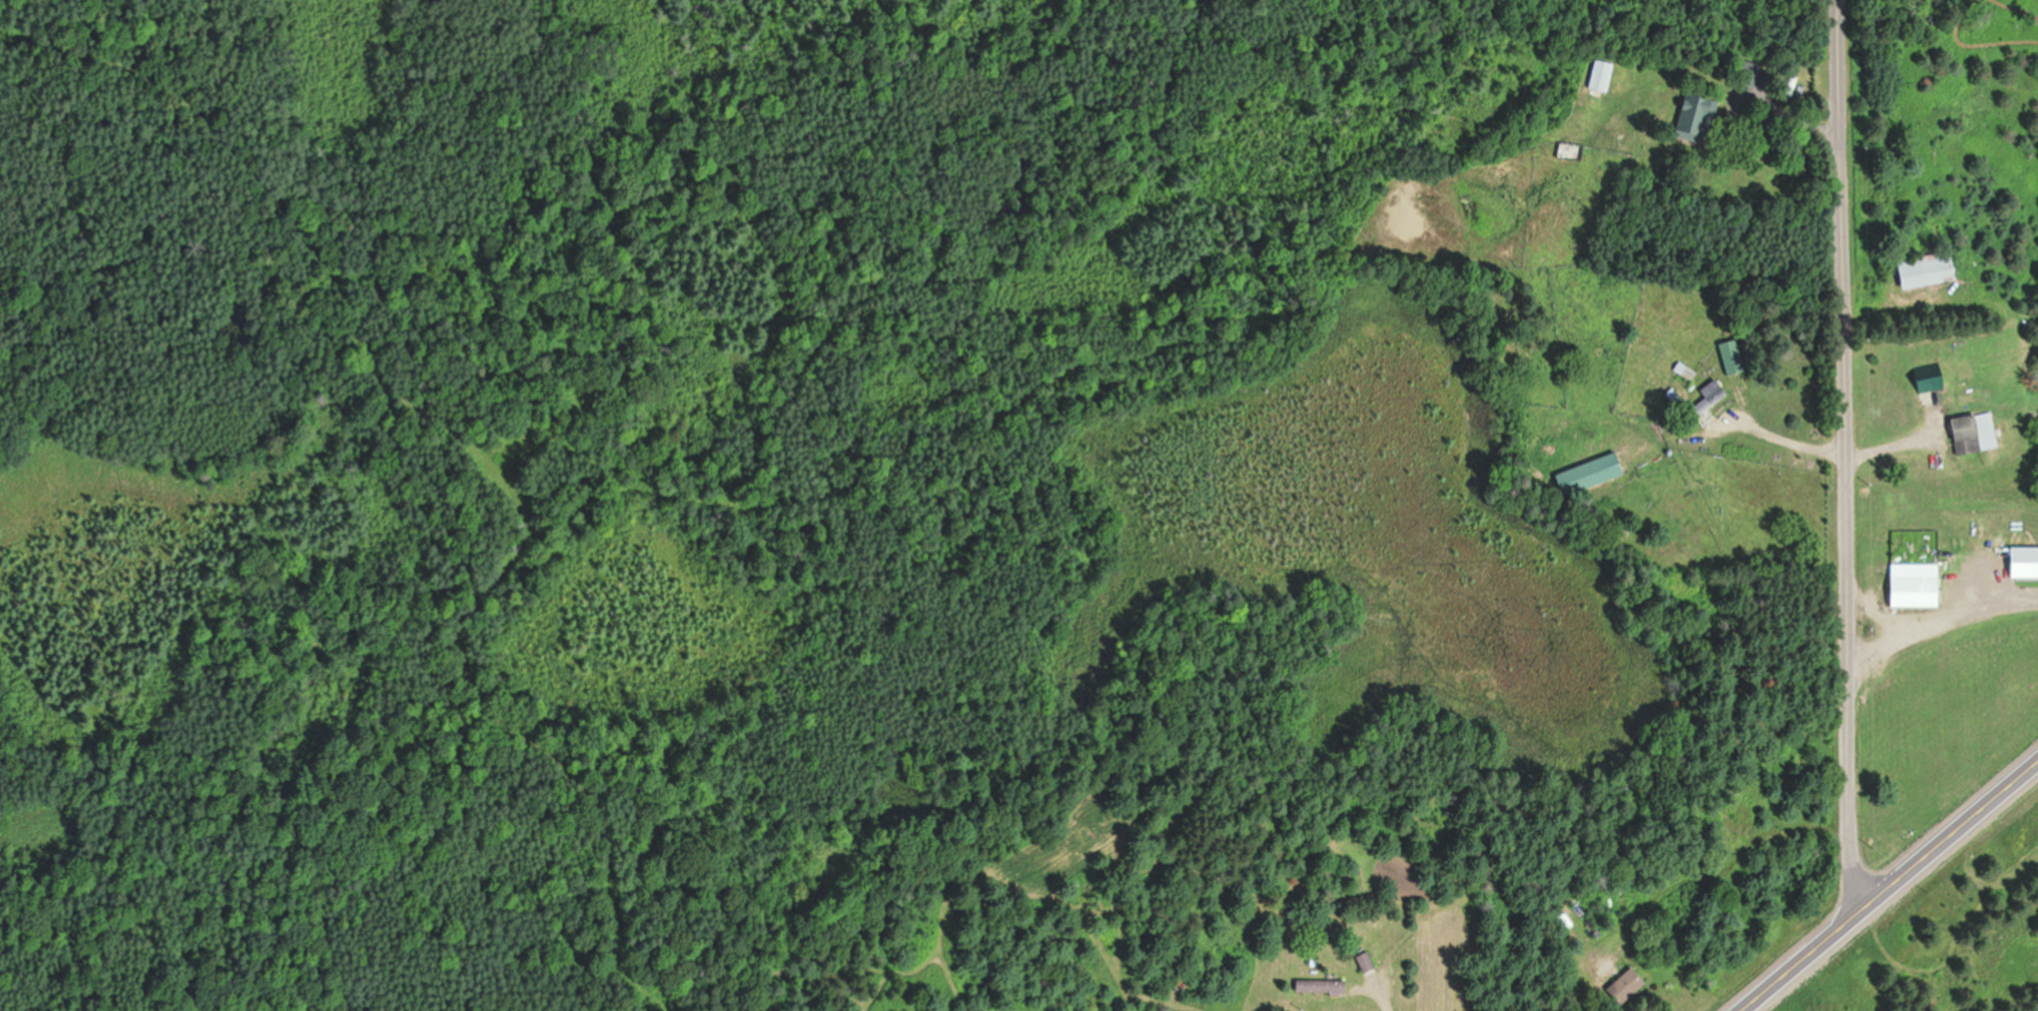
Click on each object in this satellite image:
building: (1606, 73)
building: (1696, 110)
building: (1577, 149)
building: (1932, 267)
building: (1924, 379)
building: (1715, 394)
building: (1972, 432)
road: (1846, 454)
building: (1597, 472)
building: (2020, 562)
building: (1909, 590)
road: (1888, 886)
building: (1371, 959)
building: (1632, 982)
building: (1326, 983)

